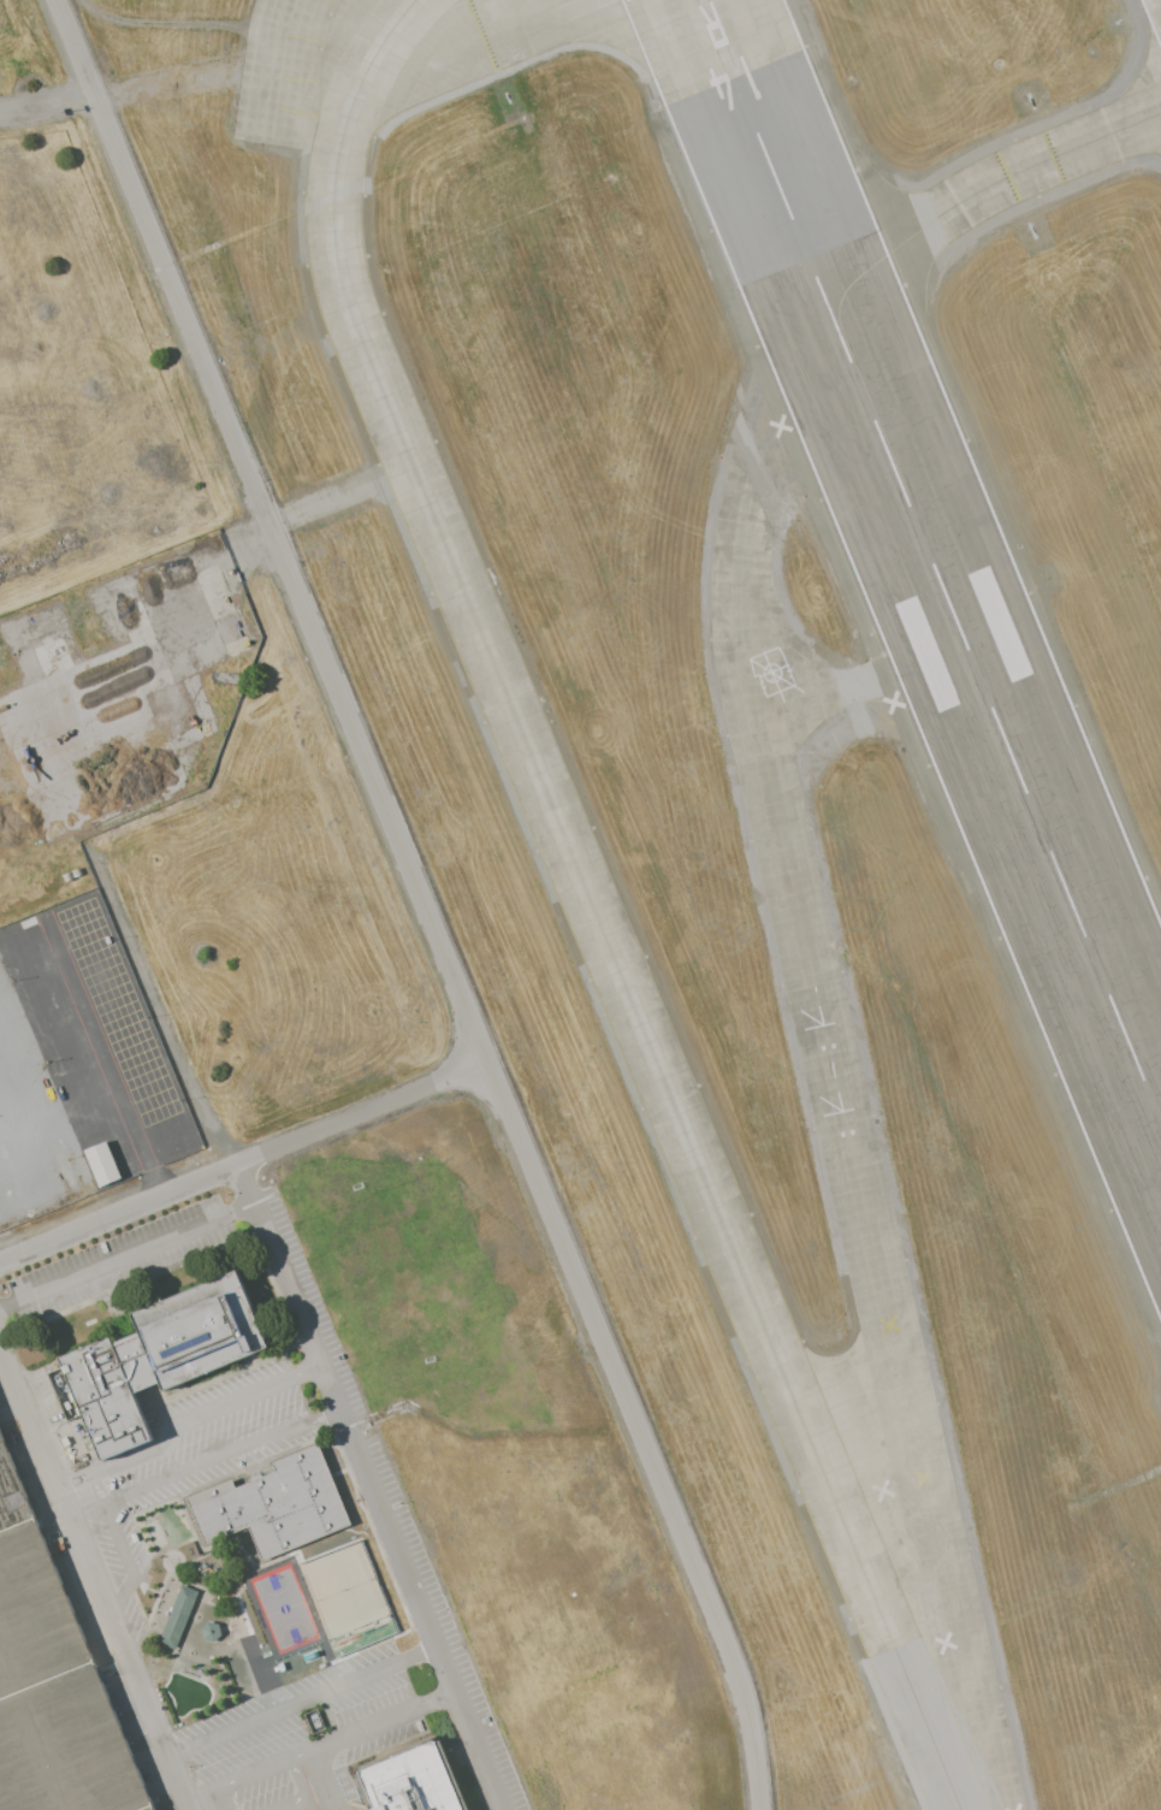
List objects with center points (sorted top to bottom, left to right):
road: (48, 108)
airport taxiway: (343, 144)
airport taxiway: (983, 191)
airport runway: (932, 558)
airport taxiway: (864, 703)
airport: (768, 752)
road: (423, 900)
airport taxiway: (824, 1053)
airport taxiway: (656, 1059)
building: (100, 1164)
road: (244, 1164)
road: (126, 1254)
building: (159, 1348)
road: (180, 1418)
building: (69, 1441)
road: (202, 1459)
road: (96, 1486)
road: (372, 1487)
building: (271, 1502)
road: (126, 1560)
building: (343, 1566)
road: (95, 1580)
building: (283, 1599)
building: (176, 1616)
building: (363, 1621)
building: (208, 1632)
building: (54, 1675)
road: (302, 1699)
road: (320, 1743)
building: (411, 1776)
road: (302, 1792)
road: (223, 1798)

